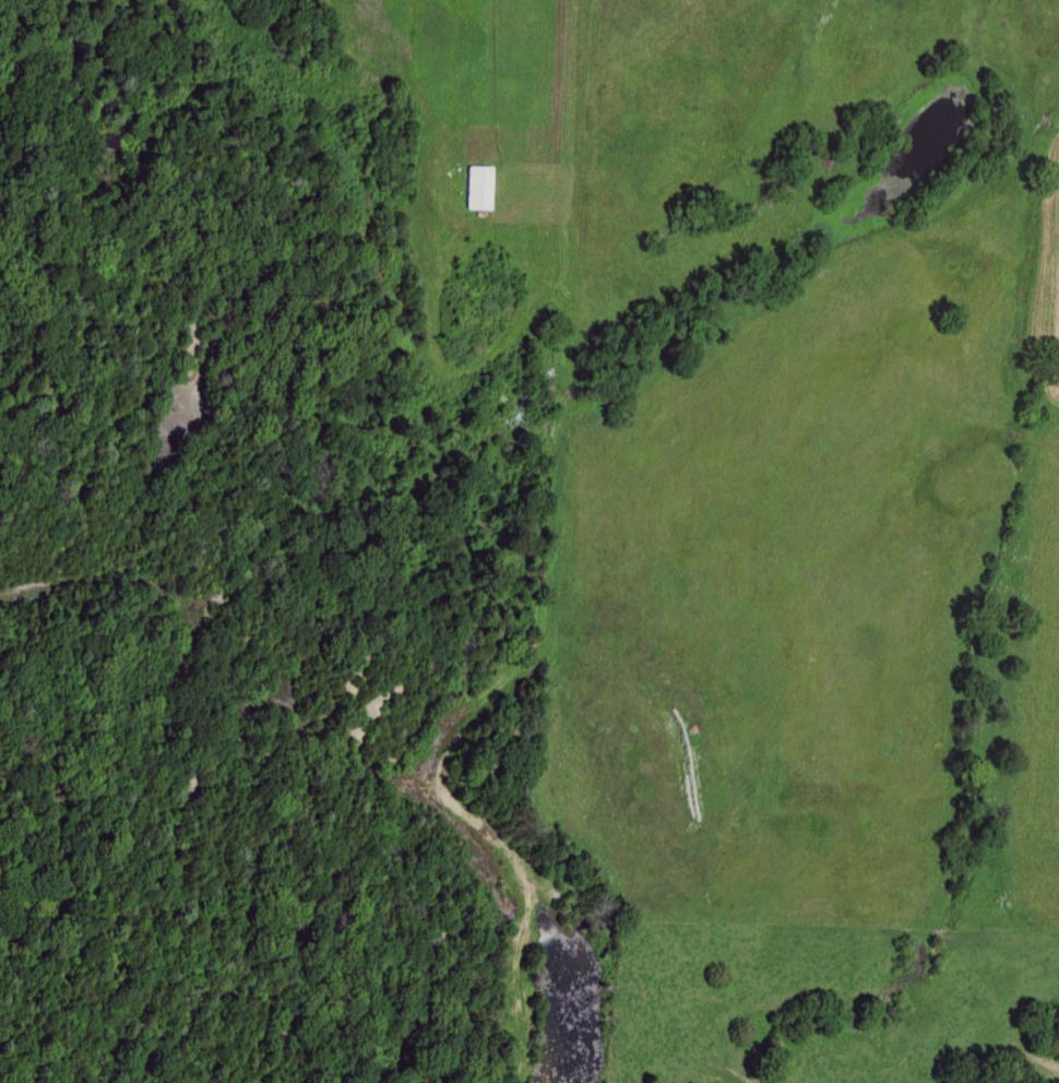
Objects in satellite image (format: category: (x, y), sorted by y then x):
building: (476, 183)

